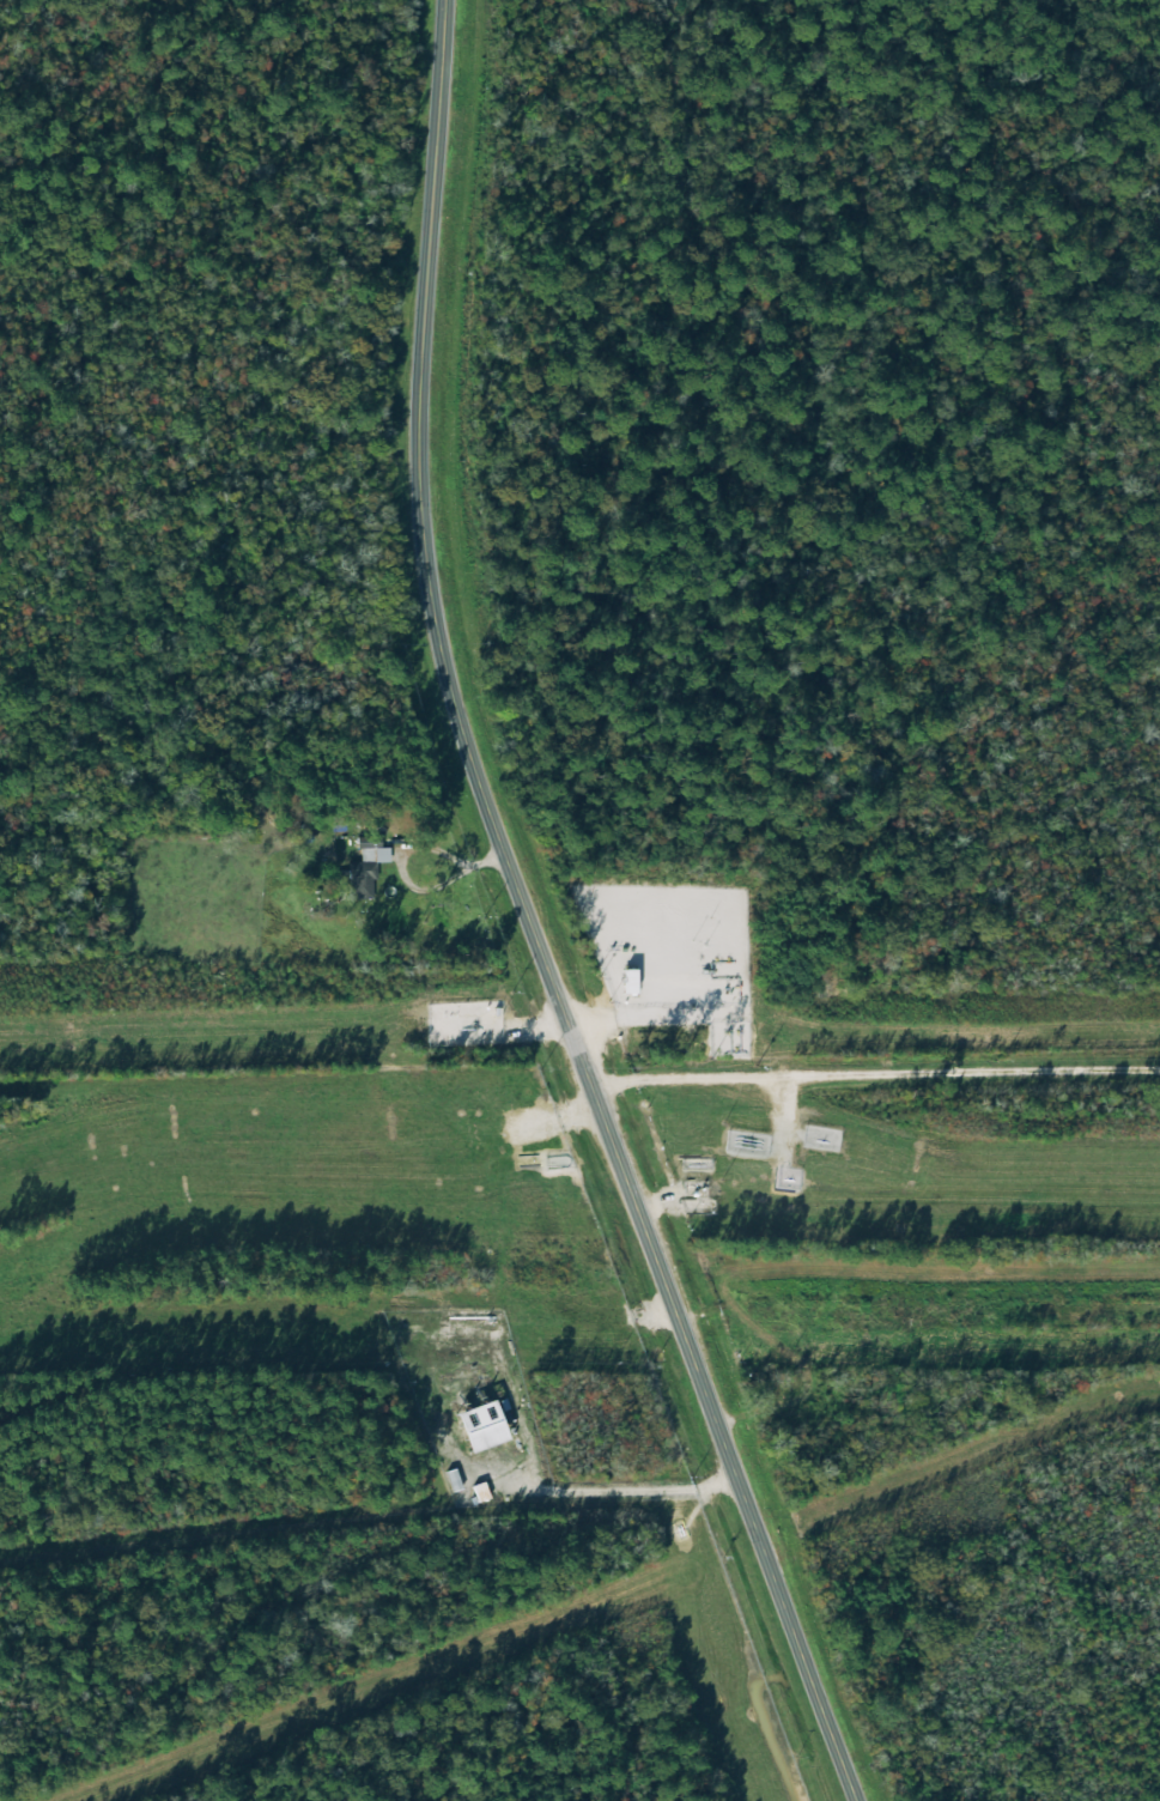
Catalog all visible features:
road: (408, 849)
building: (376, 854)
road: (529, 922)
building: (481, 1421)

